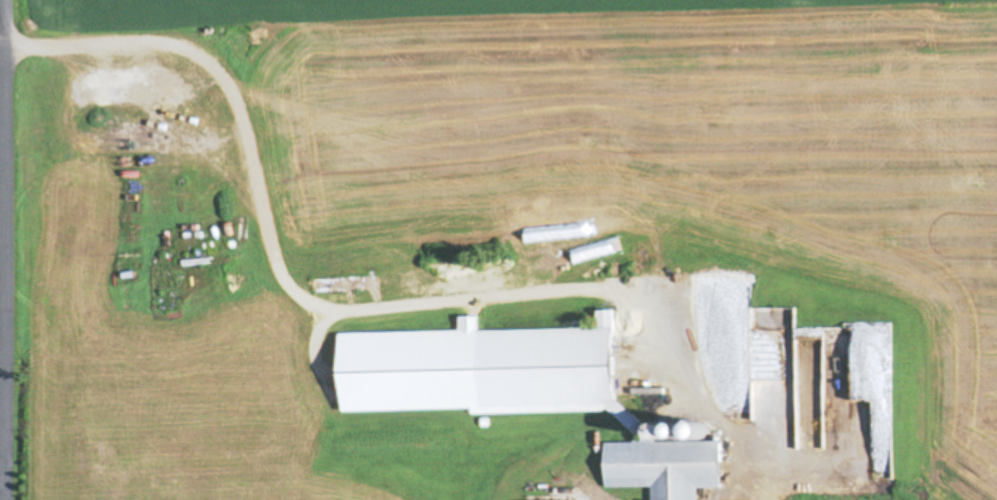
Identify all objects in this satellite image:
road: (7, 249)
crop: (968, 263)
building: (529, 275)
road: (358, 314)
building: (761, 349)
building: (482, 369)
building: (834, 429)
building: (666, 466)
building: (562, 493)

